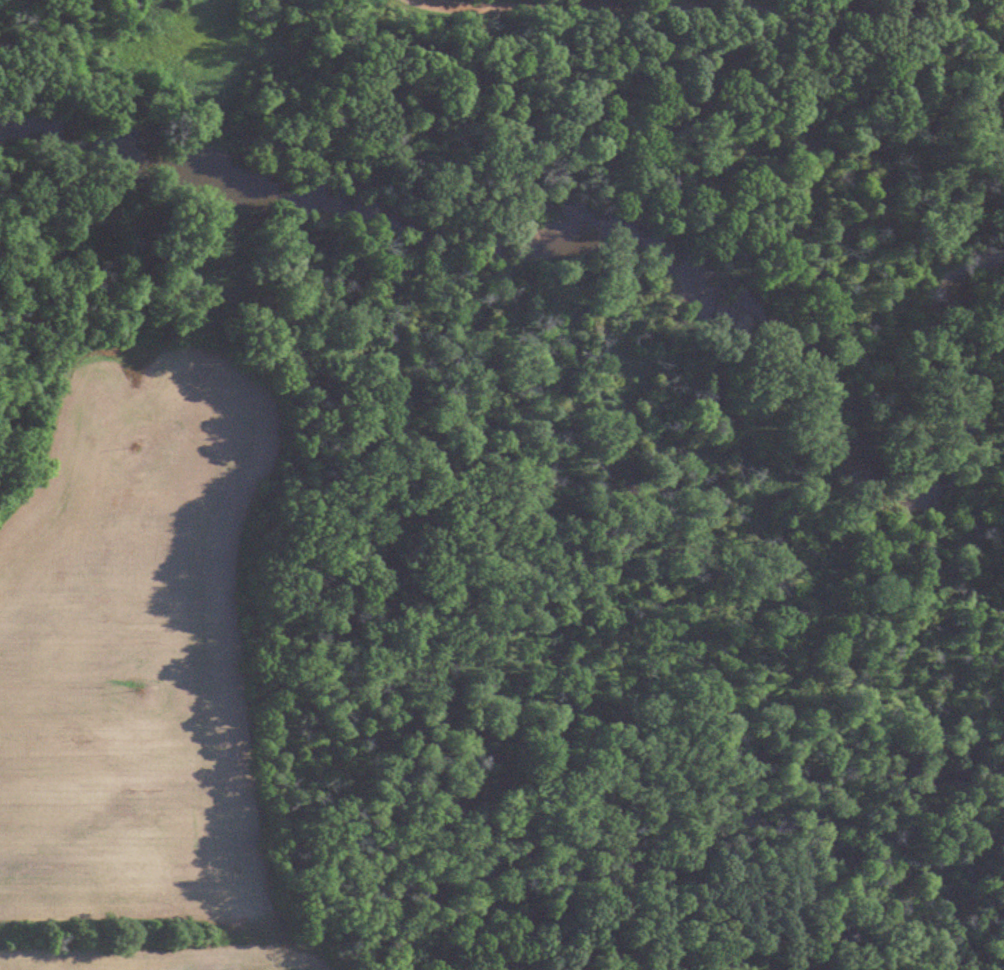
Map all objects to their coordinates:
road: (438, 5)
road: (842, 6)
road: (735, 10)
river: (521, 183)

